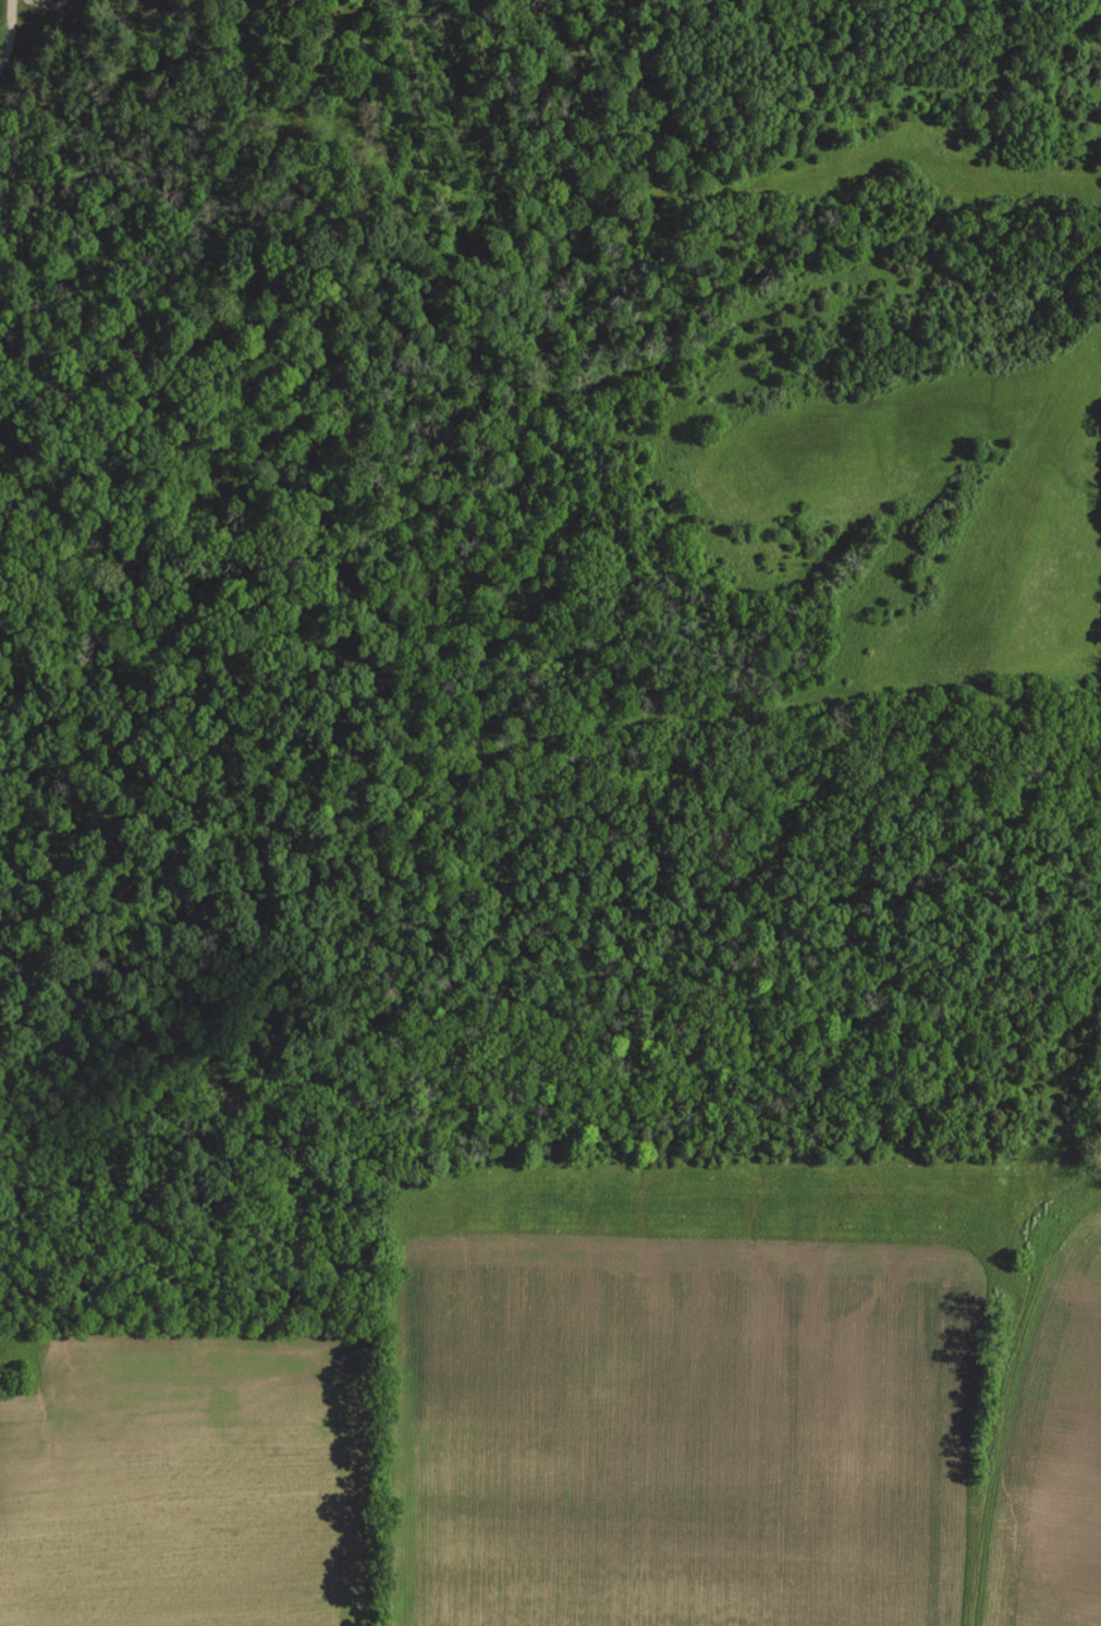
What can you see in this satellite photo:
road: (12, 37)

